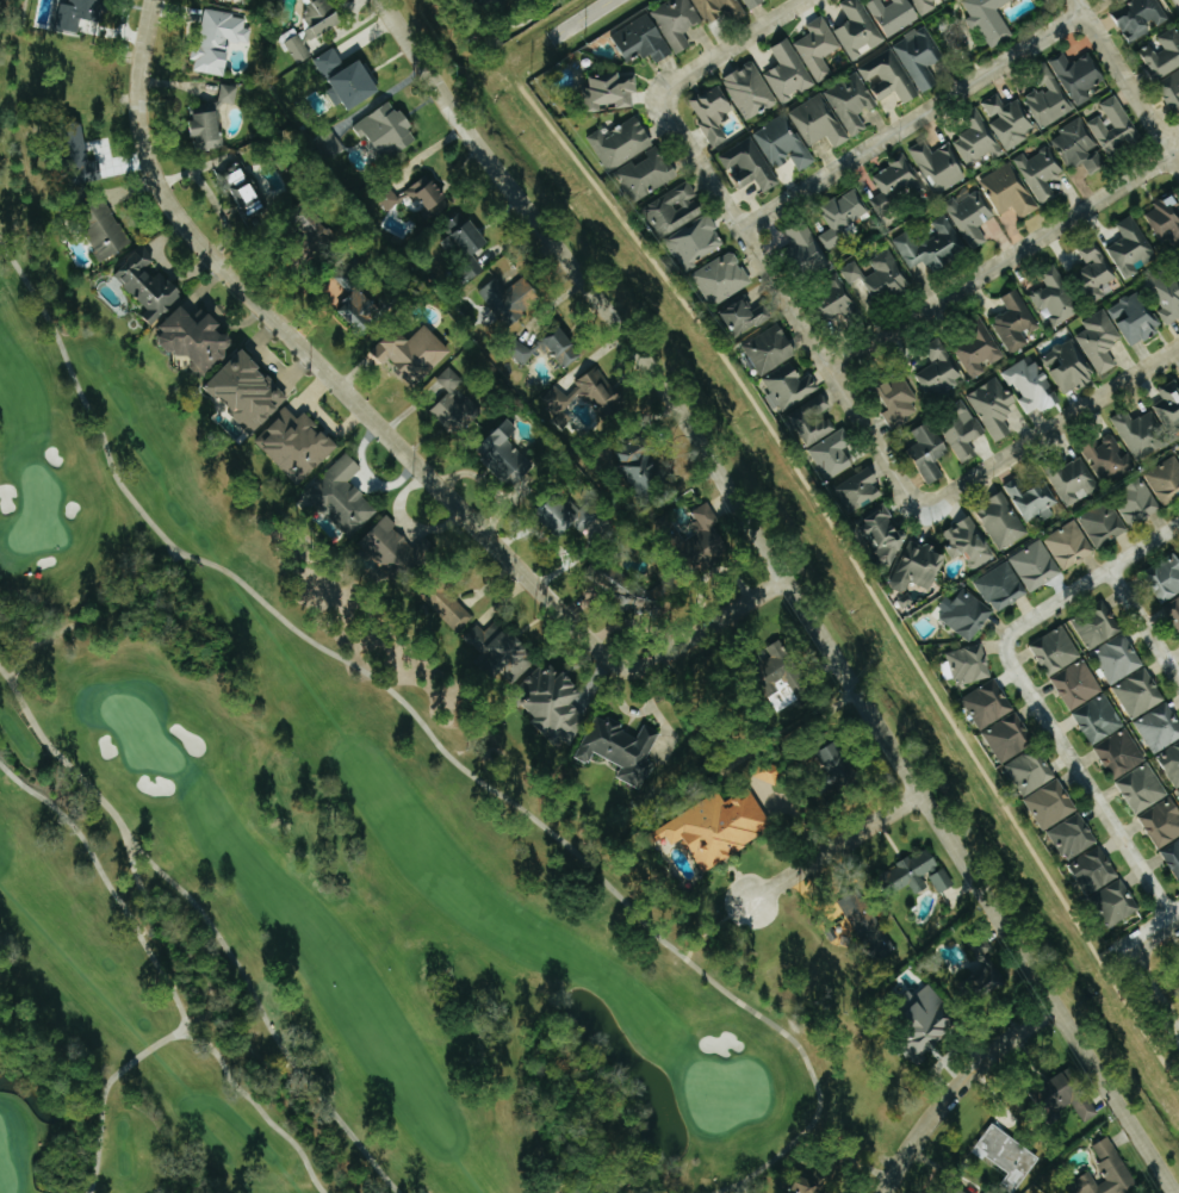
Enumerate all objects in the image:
building: (1121, 0)
building: (502, 1)
building: (755, 2)
road: (1177, 2)
building: (927, 5)
building: (719, 10)
building: (76, 12)
building: (893, 14)
building: (1142, 17)
road: (579, 18)
building: (991, 19)
building: (678, 23)
building: (315, 27)
building: (858, 29)
building: (643, 38)
building: (222, 41)
road: (733, 46)
building: (818, 48)
building: (922, 57)
building: (788, 72)
building: (1079, 76)
building: (886, 77)
building: (349, 80)
road: (1125, 83)
building: (751, 91)
building: (1171, 91)
building: (1049, 99)
building: (851, 105)
building: (713, 112)
building: (212, 119)
building: (1010, 120)
building: (819, 122)
road: (918, 122)
building: (1116, 128)
building: (389, 130)
building: (974, 142)
building: (623, 143)
building: (782, 143)
building: (1079, 147)
building: (72, 157)
building: (747, 166)
building: (938, 166)
building: (1041, 173)
building: (649, 174)
building: (895, 184)
building: (244, 189)
building: (1009, 191)
building: (429, 193)
building: (391, 198)
building: (675, 209)
building: (840, 216)
building: (970, 216)
building: (1166, 223)
building: (98, 226)
building: (697, 242)
building: (470, 244)
building: (932, 247)
building: (1133, 248)
building: (807, 249)
road: (1010, 267)
building: (1097, 273)
building: (880, 276)
building: (724, 279)
road: (784, 281)
building: (145, 282)
building: (1166, 294)
building: (1056, 296)
building: (511, 298)
building: (838, 302)
building: (747, 317)
building: (1136, 318)
building: (1016, 322)
building: (192, 336)
building: (1100, 340)
building: (565, 346)
building: (770, 348)
building: (525, 352)
building: (411, 353)
building: (978, 353)
building: (1069, 366)
building: (938, 371)
building: (790, 385)
building: (1031, 386)
building: (243, 389)
building: (899, 400)
building: (455, 403)
building: (994, 406)
building: (1169, 406)
building: (814, 418)
road: (391, 427)
building: (962, 430)
building: (1140, 433)
building: (291, 441)
road: (1035, 448)
building: (930, 451)
building: (834, 453)
building: (508, 456)
building: (1106, 458)
building: (641, 466)
building: (1166, 479)
building: (1074, 480)
building: (862, 489)
building: (340, 495)
building: (1031, 498)
building: (1138, 502)
park: (38, 512)
building: (570, 515)
building: (1003, 521)
building: (1104, 523)
building: (886, 530)
building: (708, 534)
building: (1071, 545)
building: (392, 547)
road: (172, 549)
road: (179, 554)
building: (942, 555)
building: (1036, 565)
road: (162, 576)
building: (1165, 578)
road: (795, 586)
building: (1001, 586)
road: (1097, 591)
building: (441, 597)
building: (1173, 610)
building: (966, 614)
road: (1149, 621)
road: (76, 622)
building: (1097, 628)
building: (1056, 650)
building: (499, 652)
building: (1118, 657)
building: (970, 664)
road: (15, 670)
building: (787, 671)
road: (13, 679)
building: (1078, 683)
building: (1140, 692)
building: (547, 701)
building: (988, 703)
building: (1099, 719)
building: (1160, 727)
park: (139, 732)
building: (1009, 737)
road: (435, 739)
building: (618, 747)
building: (1121, 753)
building: (839, 760)
building: (1172, 762)
building: (1031, 770)
building: (769, 771)
road: (1094, 785)
building: (1142, 788)
building: (1051, 803)
building: (1162, 821)
building: (714, 824)
building: (1073, 835)
park: (304, 850)
road: (834, 851)
building: (1172, 856)
road: (131, 858)
building: (1093, 870)
building: (914, 871)
building: (943, 880)
building: (1117, 902)
road: (209, 921)
building: (864, 924)
building: (829, 931)
road: (1158, 938)
road: (190, 953)
road: (162, 971)
building: (981, 973)
road: (1158, 988)
building: (920, 1019)
road: (184, 1033)
road: (961, 1086)
park: (725, 1092)
building: (1071, 1095)
road: (255, 1102)
building: (1009, 1156)
park: (6, 1169)
building: (815, 1172)
building: (1110, 1172)
building: (989, 1191)
building: (963, 1192)

